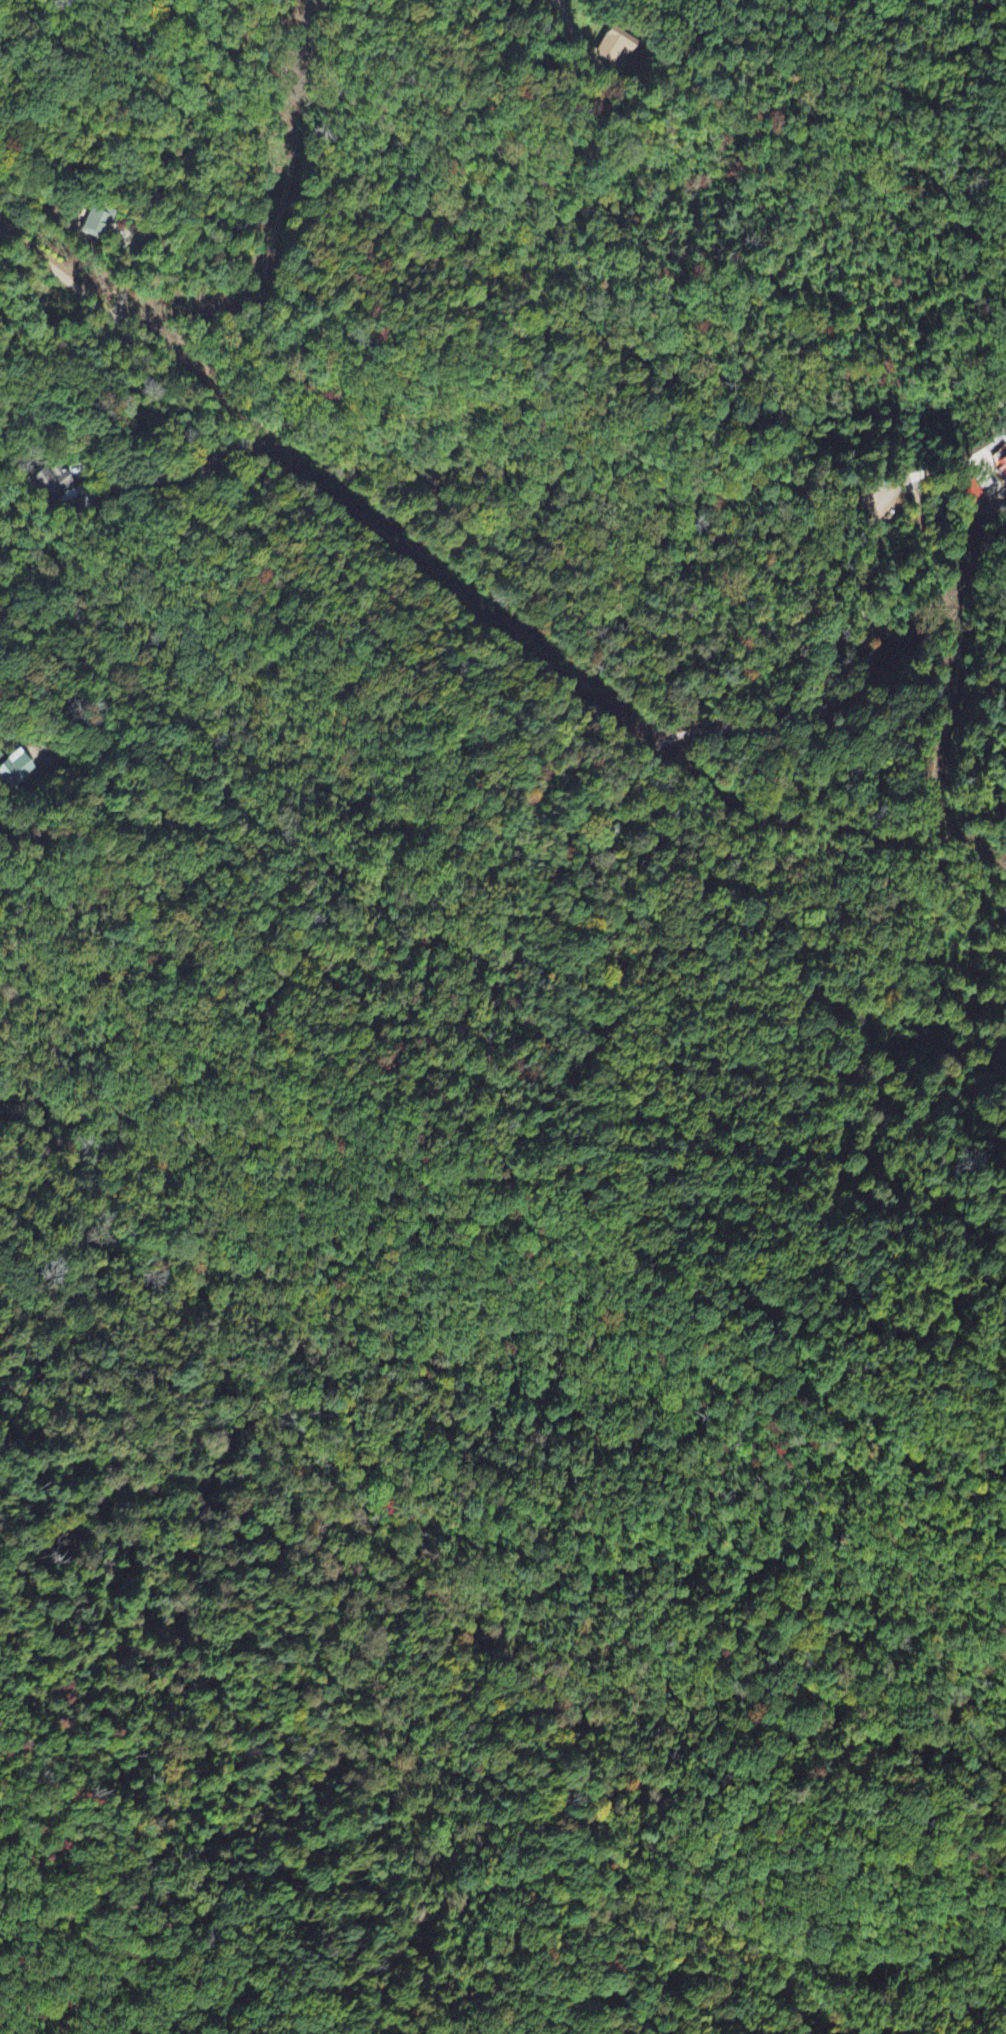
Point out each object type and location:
building: (610, 51)
building: (93, 227)
building: (991, 465)
building: (47, 485)
building: (971, 495)
building: (13, 771)
road: (333, 1010)

